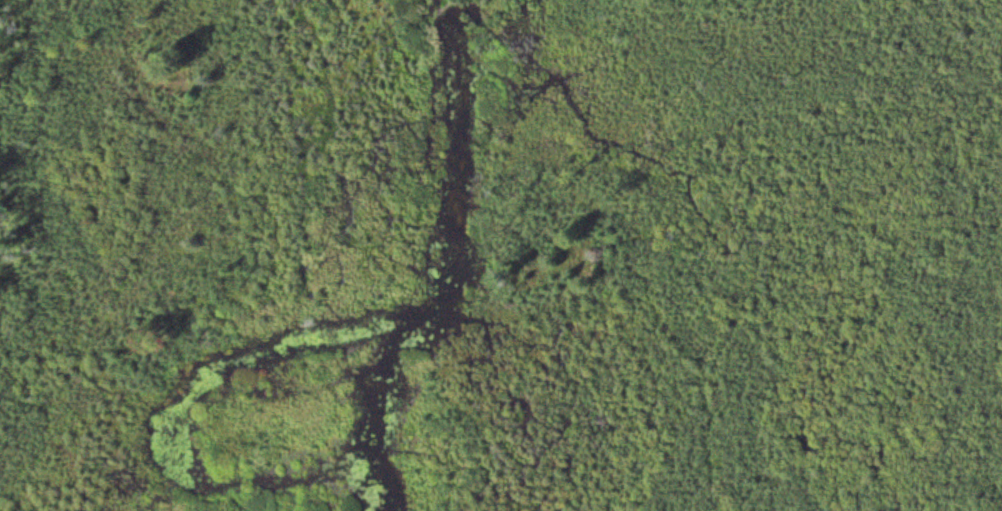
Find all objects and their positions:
river: (451, 261)

